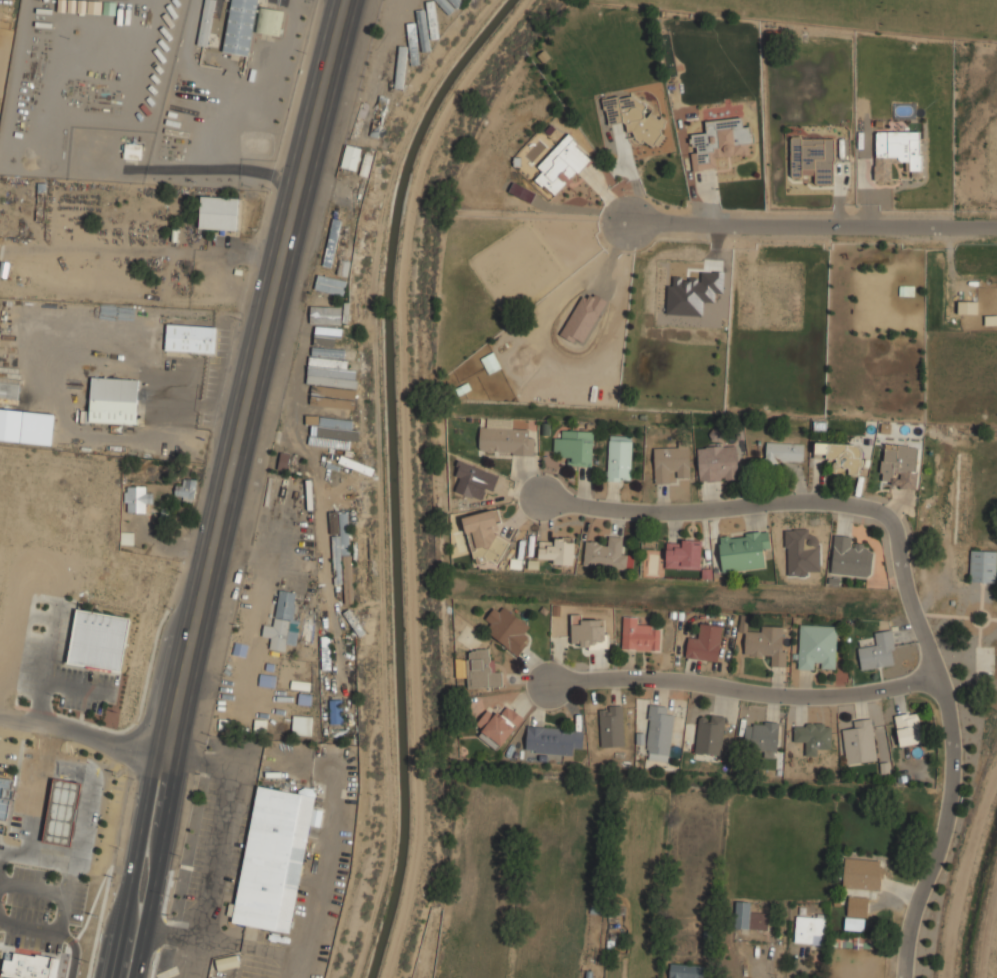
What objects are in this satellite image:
building: (456, 2)
building: (445, 5)
building: (431, 19)
building: (296, 20)
building: (205, 22)
building: (249, 24)
building: (397, 29)
building: (422, 30)
building: (412, 43)
building: (400, 67)
road: (206, 81)
building: (378, 116)
building: (361, 117)
building: (634, 118)
building: (720, 143)
building: (132, 151)
building: (896, 152)
building: (350, 157)
building: (813, 158)
building: (562, 165)
road: (216, 170)
building: (218, 213)
road: (811, 222)
building: (331, 242)
building: (334, 257)
building: (967, 307)
building: (583, 317)
building: (74, 326)
building: (190, 338)
building: (329, 353)
building: (9, 391)
building: (113, 400)
building: (323, 408)
building: (10, 425)
building: (331, 435)
building: (506, 440)
building: (575, 447)
building: (318, 454)
building: (780, 454)
building: (348, 457)
building: (619, 457)
building: (844, 458)
building: (672, 463)
building: (717, 464)
building: (899, 465)
building: (340, 471)
road: (232, 488)
building: (185, 489)
building: (135, 498)
road: (733, 505)
building: (333, 522)
building: (482, 531)
building: (743, 549)
building: (557, 550)
building: (801, 552)
building: (608, 554)
building: (683, 554)
building: (851, 557)
building: (343, 559)
building: (983, 566)
building: (282, 622)
building: (507, 629)
building: (589, 633)
building: (640, 634)
building: (98, 641)
building: (705, 643)
building: (768, 644)
building: (817, 646)
building: (878, 651)
building: (481, 670)
road: (748, 691)
building: (335, 711)
building: (301, 724)
building: (498, 725)
building: (612, 725)
building: (909, 728)
building: (659, 729)
building: (710, 734)
road: (84, 736)
building: (812, 736)
building: (762, 737)
building: (553, 740)
building: (859, 742)
road: (953, 762)
building: (6, 797)
building: (61, 811)
road: (220, 856)
building: (273, 858)
building: (863, 874)
building: (857, 913)
building: (750, 917)
building: (810, 930)
building: (27, 966)
building: (687, 971)

